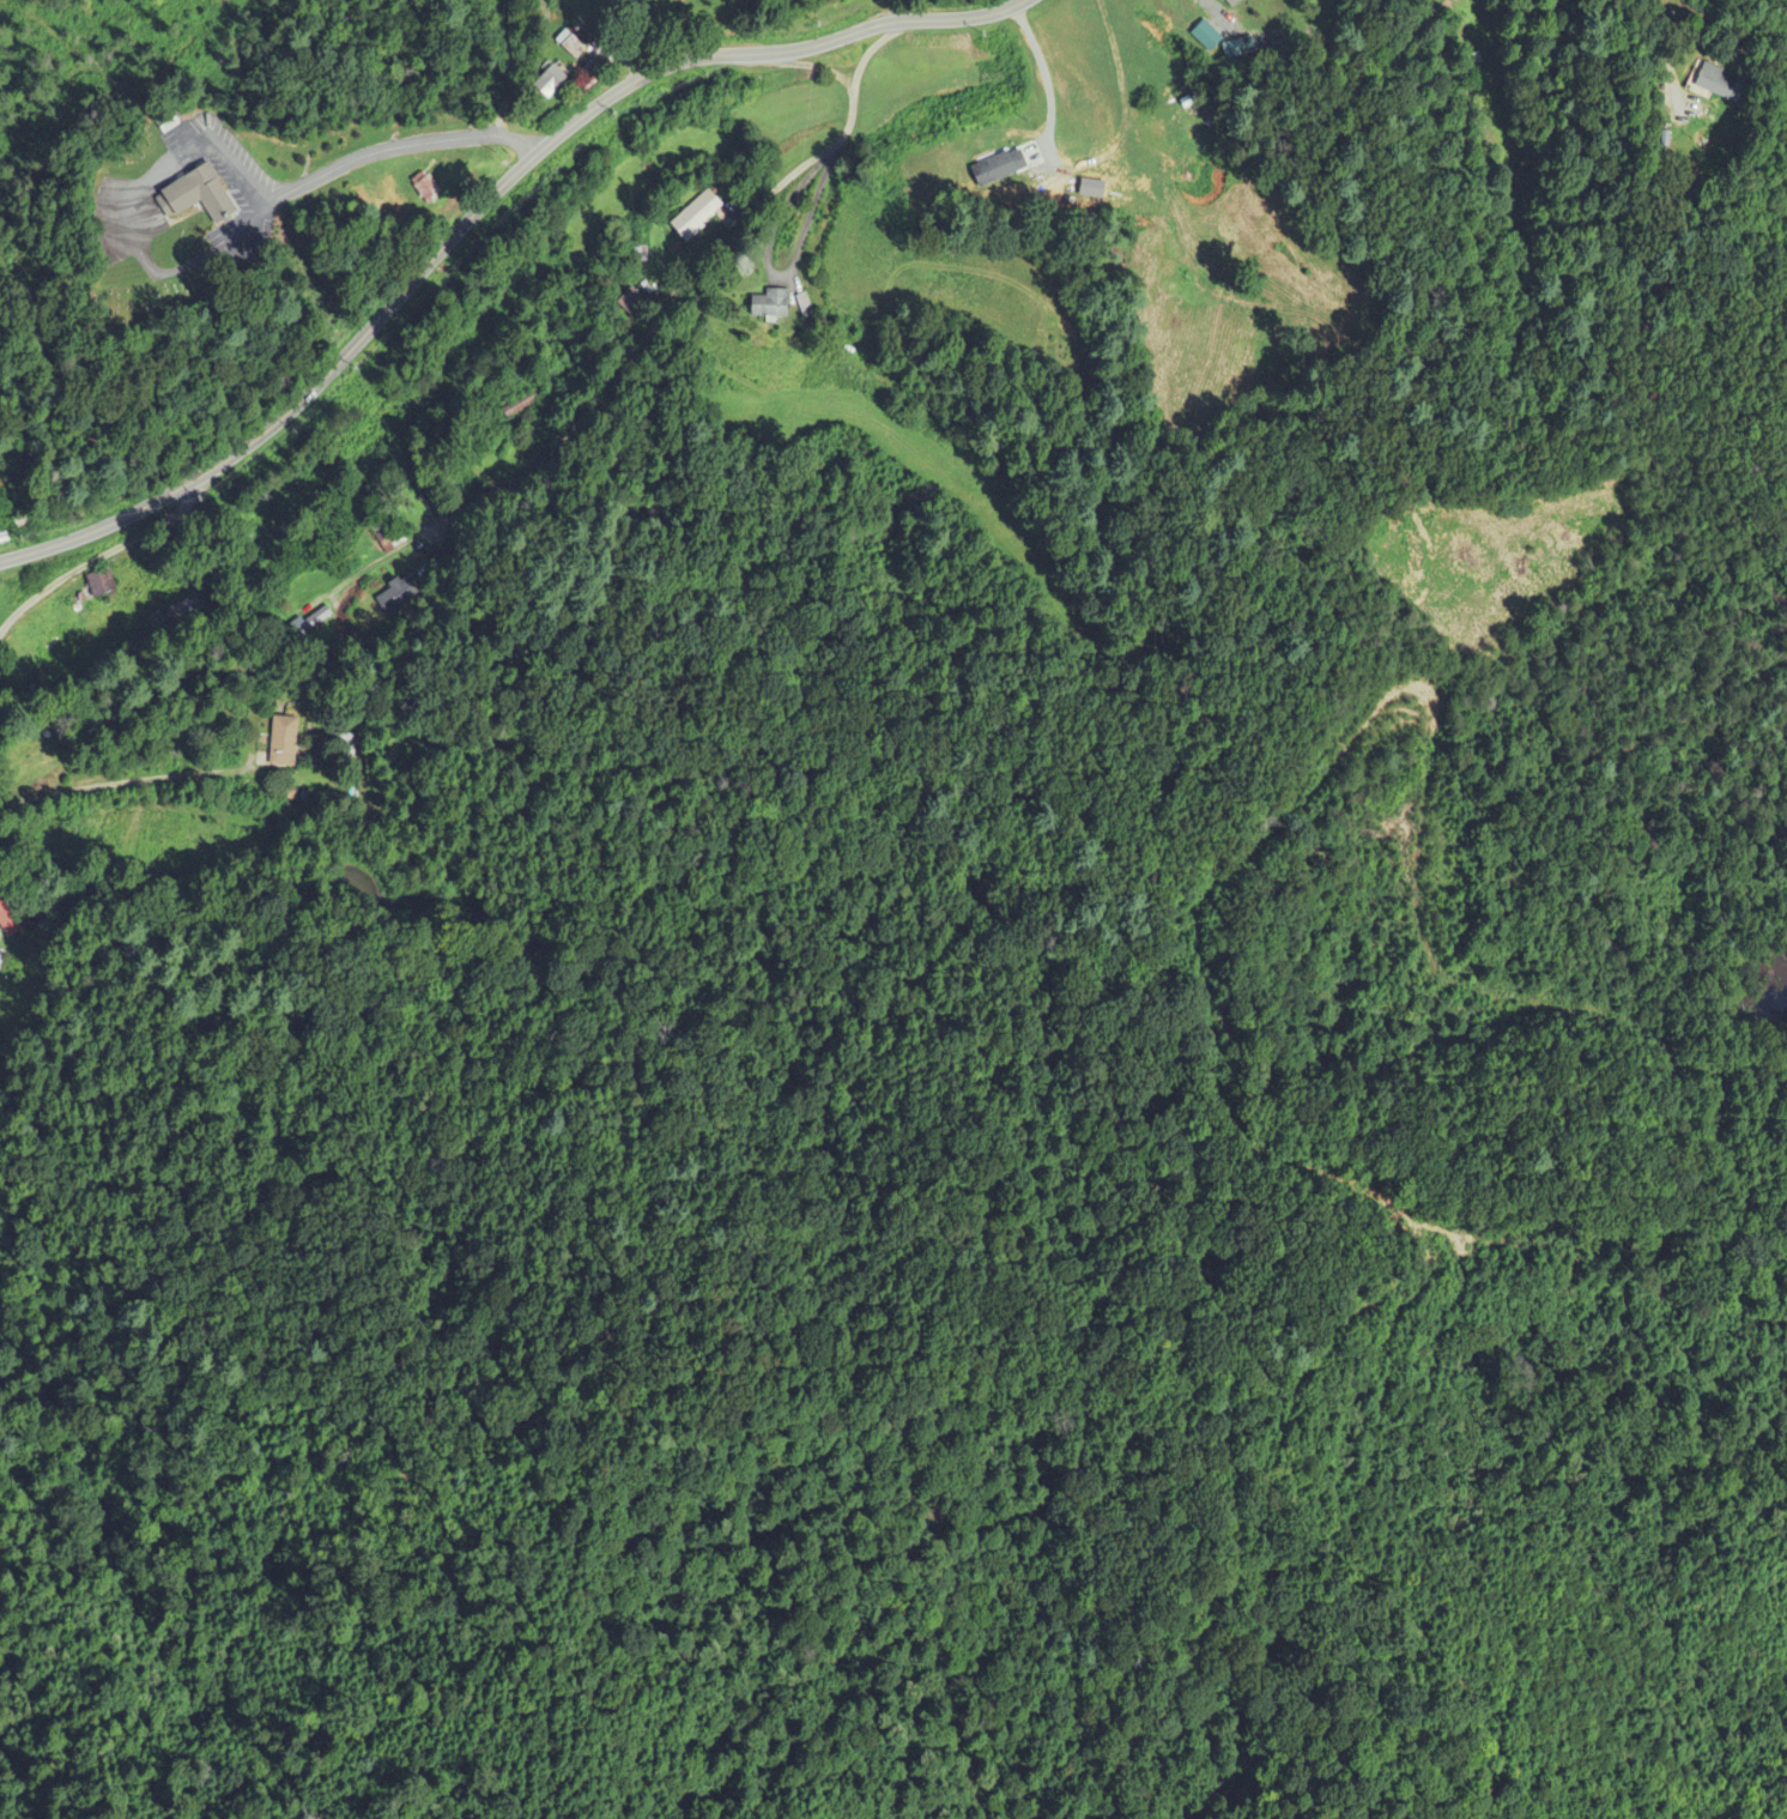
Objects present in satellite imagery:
building: (1228, 1)
road: (1212, 7)
road: (891, 11)
road: (1665, 47)
road: (617, 53)
road: (805, 65)
road: (509, 67)
building: (553, 81)
building: (1725, 81)
road: (402, 146)
building: (999, 168)
building: (430, 189)
building: (199, 197)
road: (480, 209)
building: (697, 216)
building: (630, 303)
building: (773, 304)
road: (658, 325)
building: (520, 405)
building: (388, 534)
road: (97, 558)
building: (102, 584)
building: (396, 596)
building: (309, 624)
building: (285, 742)
building: (36, 748)
building: (344, 748)
road: (134, 782)
building: (7, 919)

